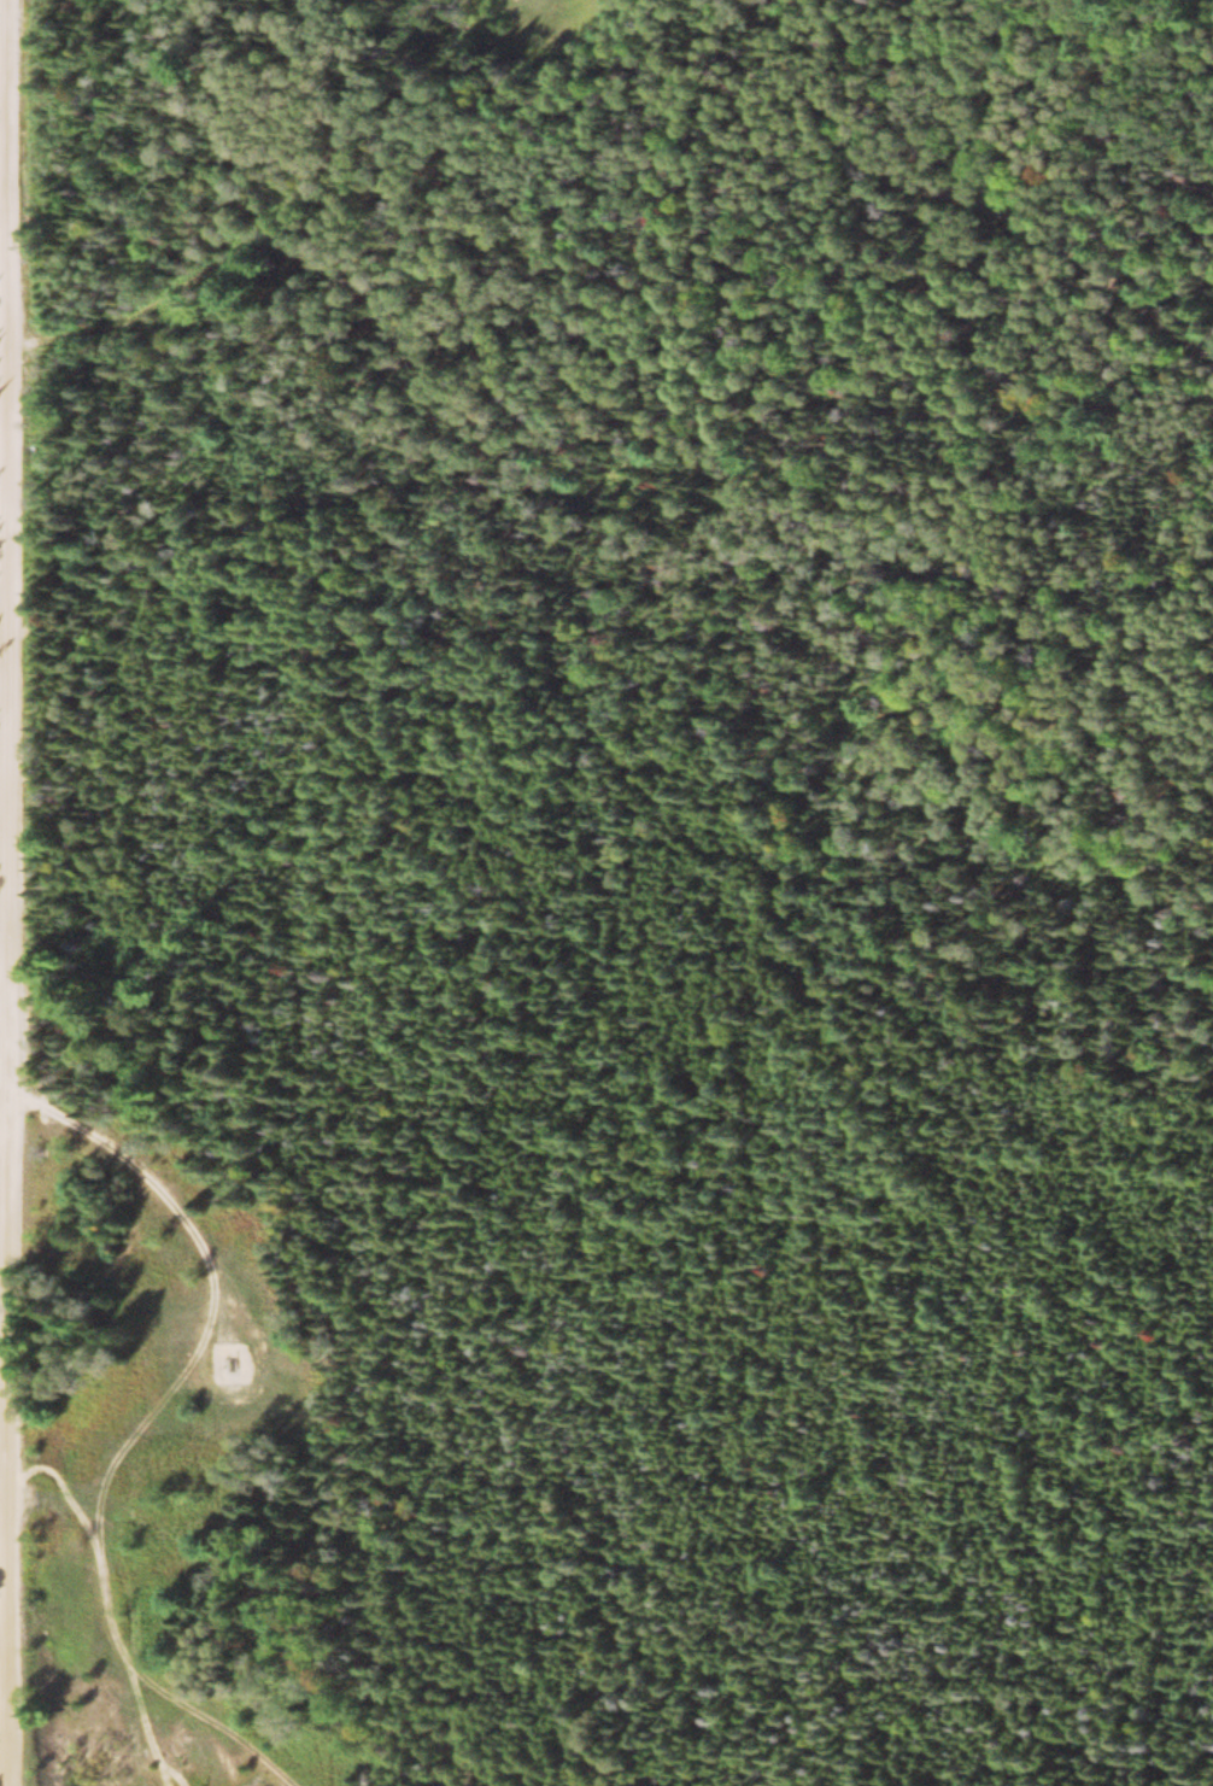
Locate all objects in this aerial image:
road: (4, 892)
petroleum well: (232, 1368)

